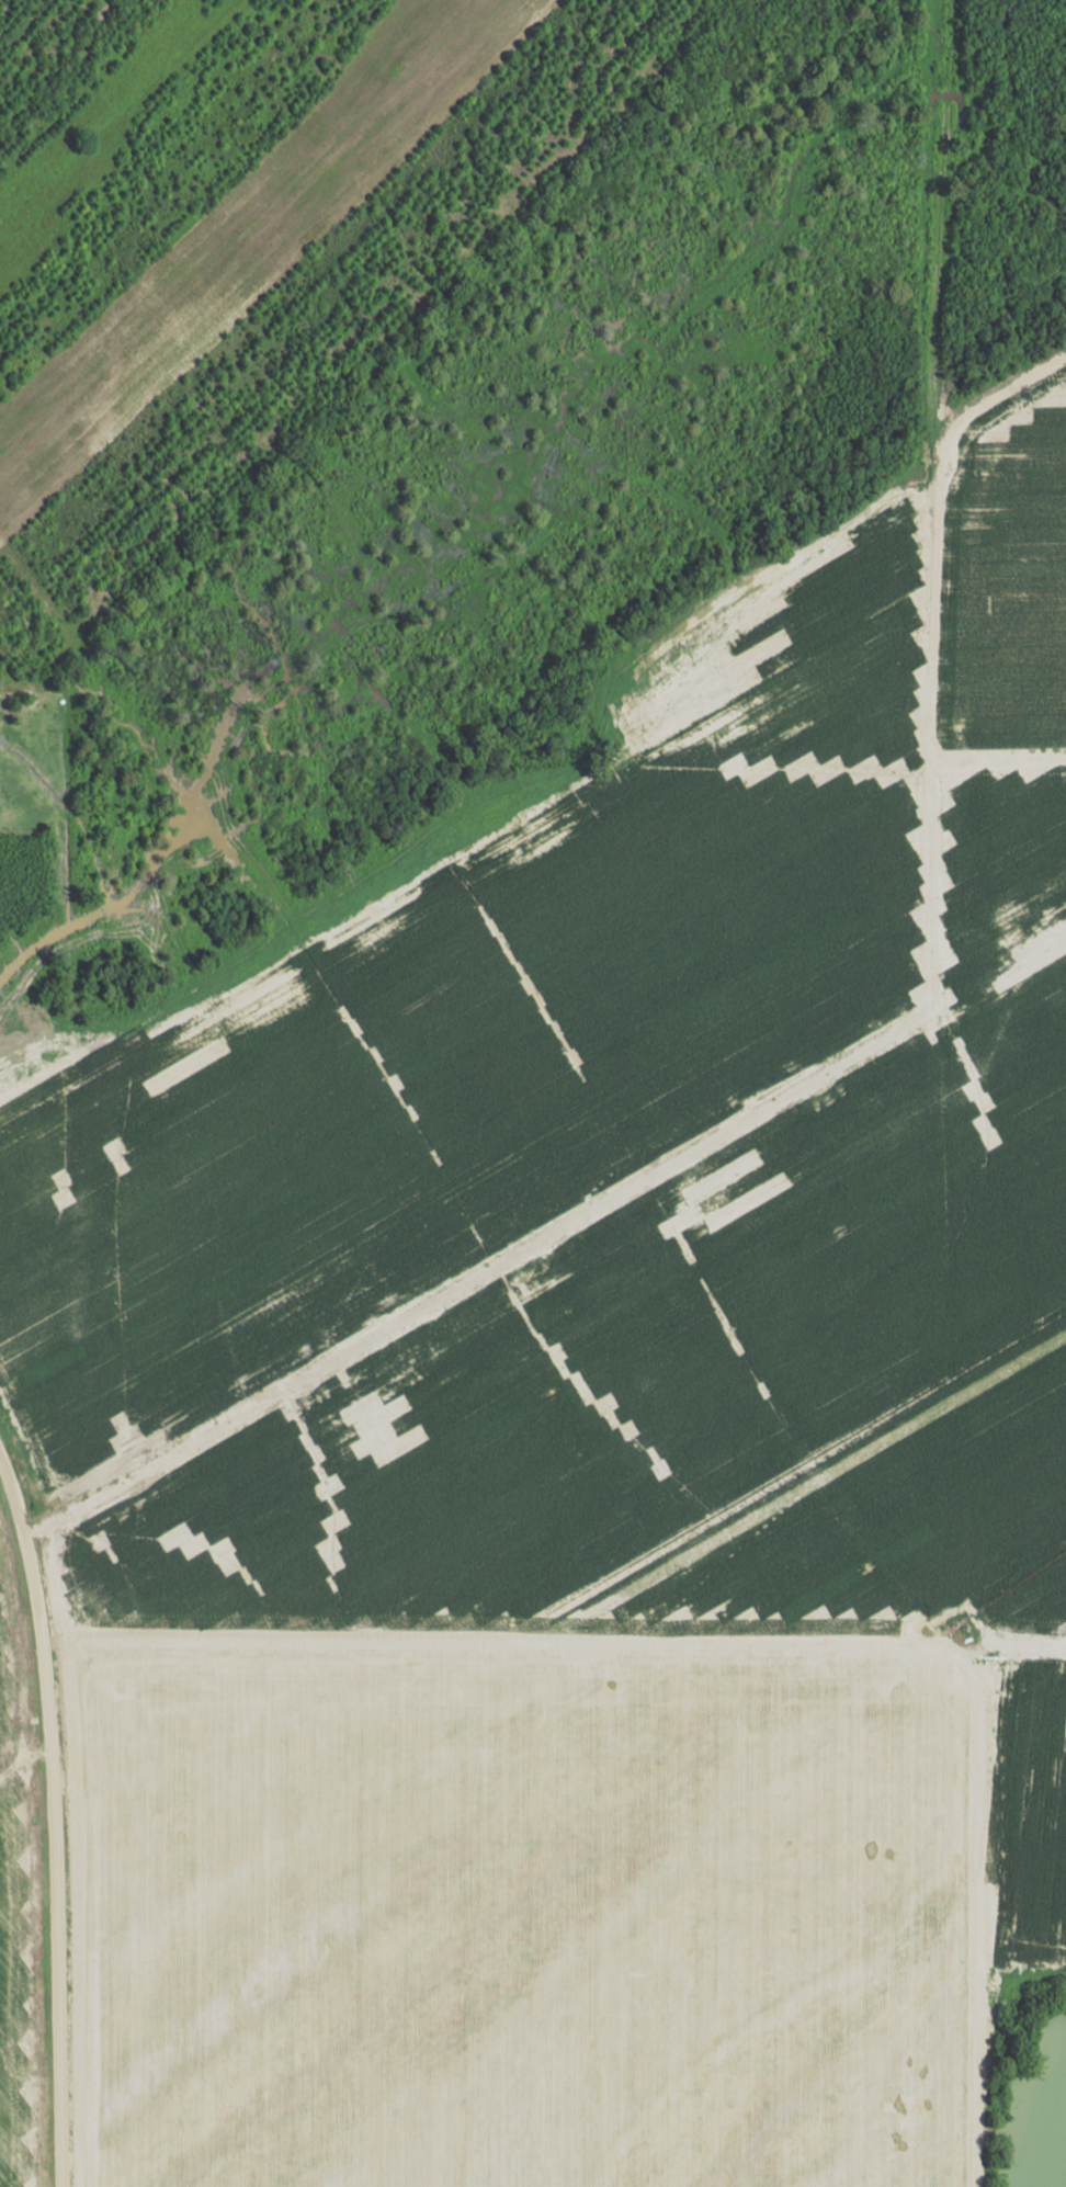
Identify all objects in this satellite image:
road: (1032, 749)
road: (959, 771)
road: (1064, 1641)
road: (49, 1825)

